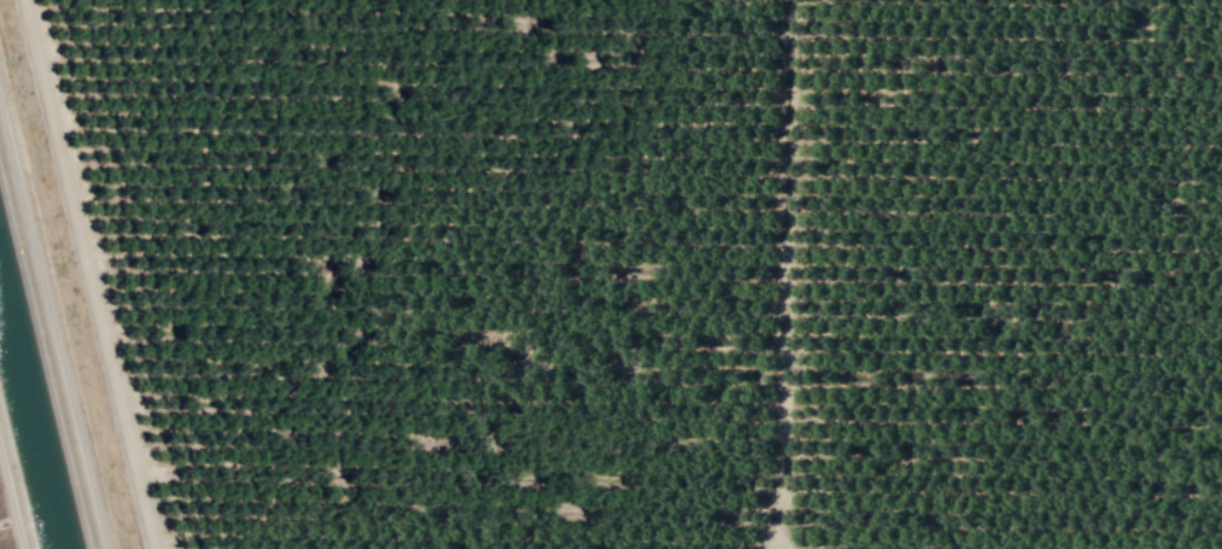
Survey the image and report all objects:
road: (89, 274)
road: (785, 276)
road: (52, 332)

